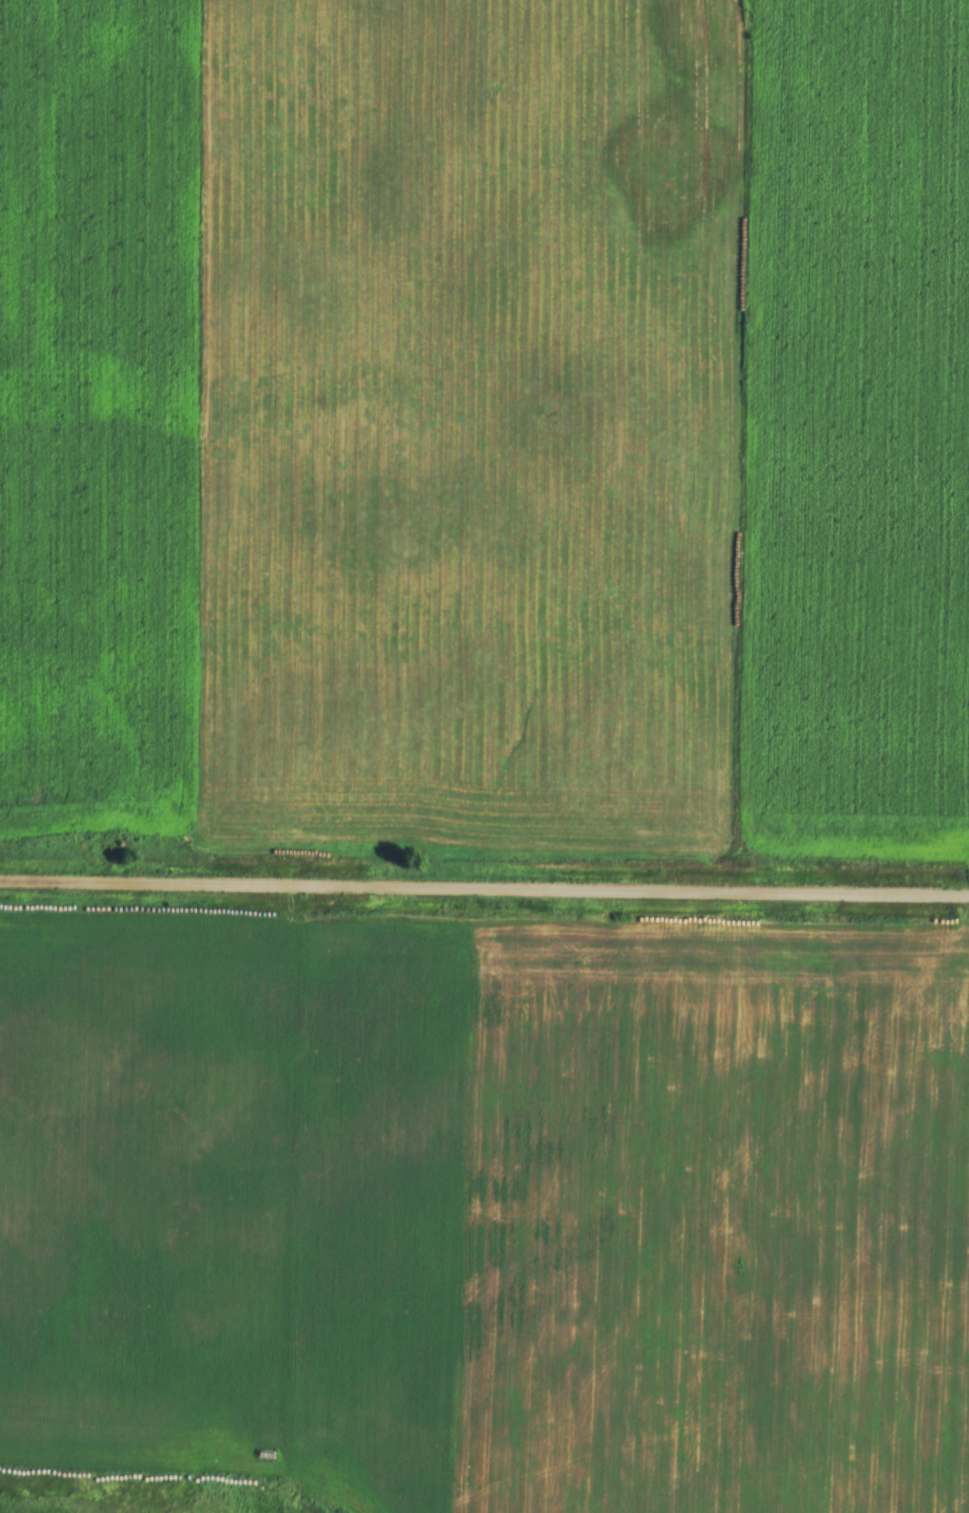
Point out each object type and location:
road: (484, 886)

